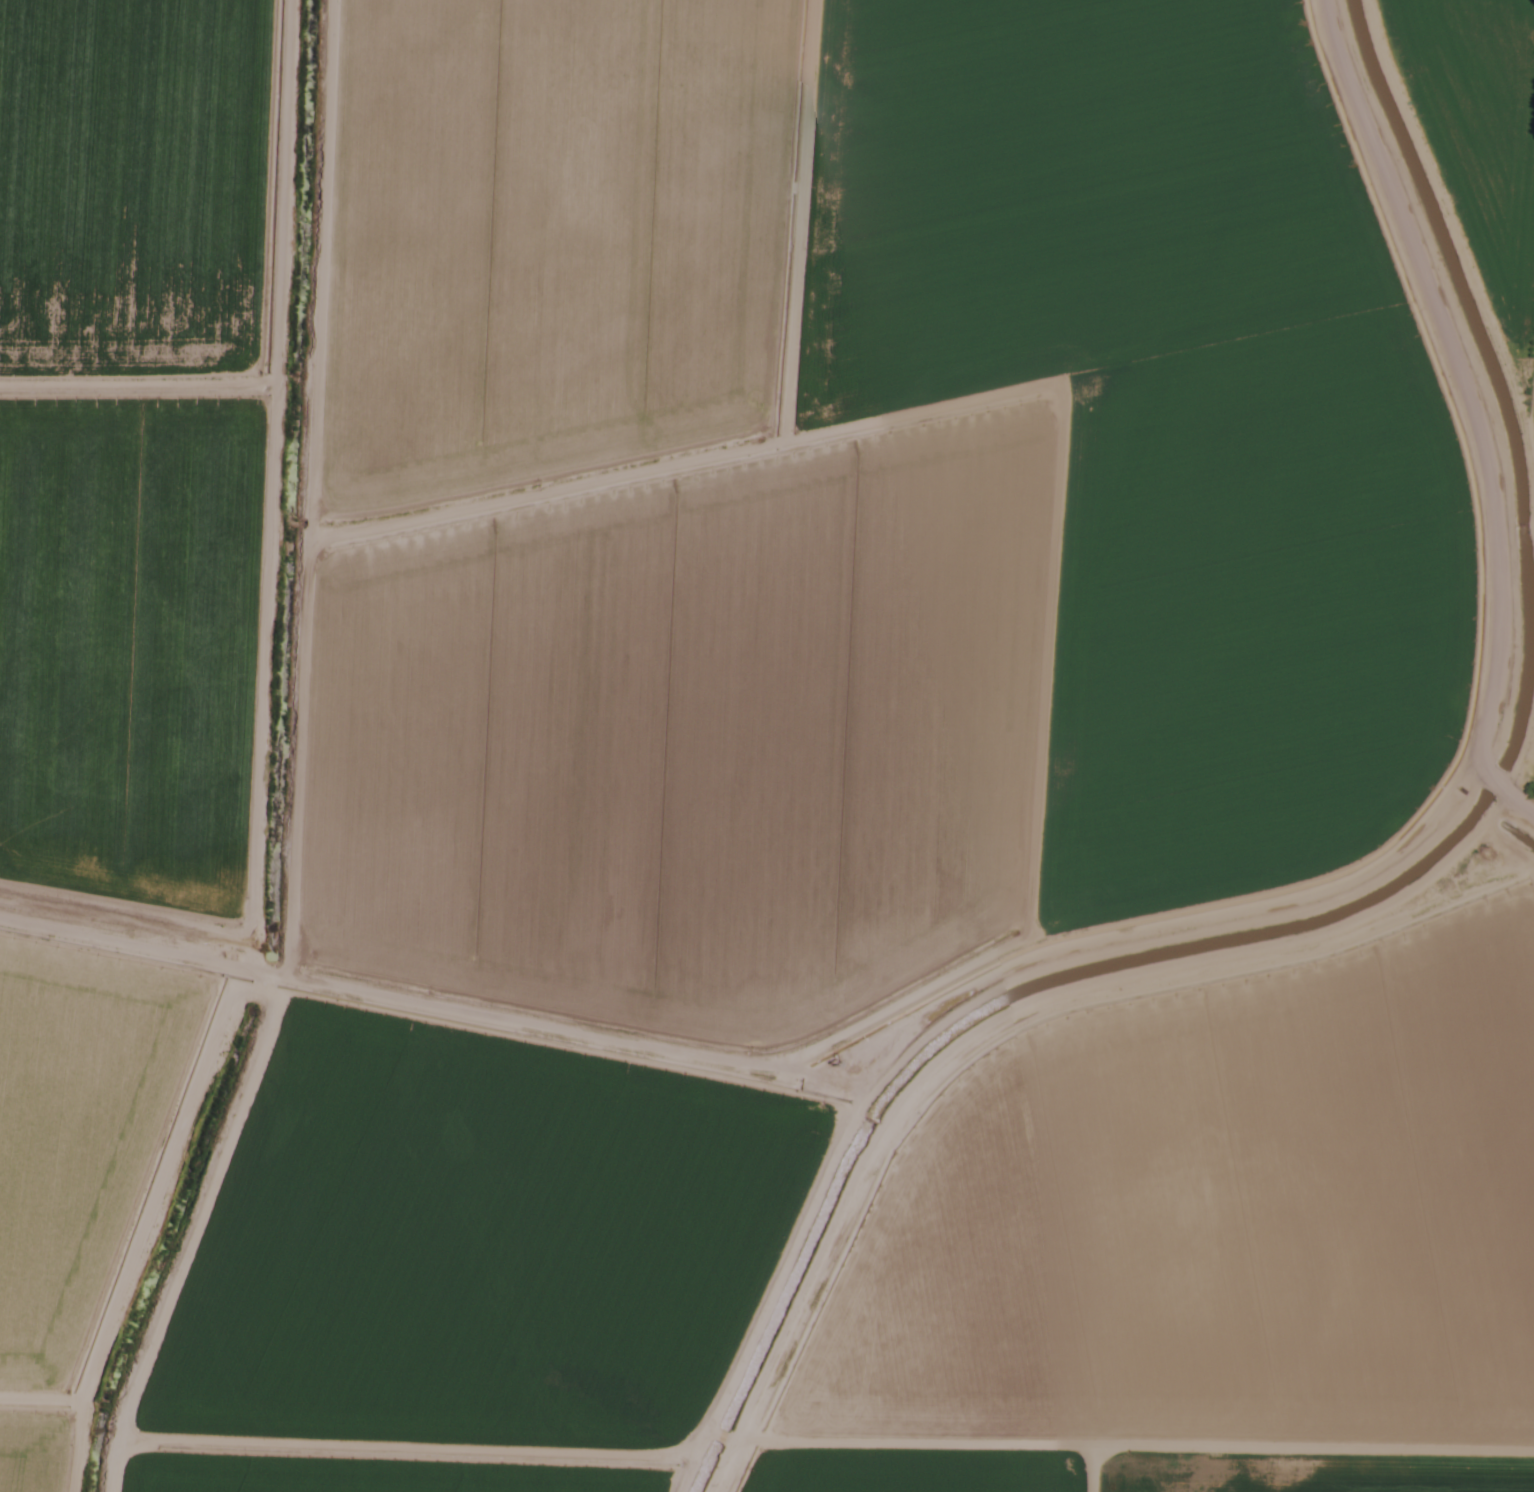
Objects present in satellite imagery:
crop: (703, 485)
road: (1496, 799)
road: (1347, 896)
road: (768, 1063)

